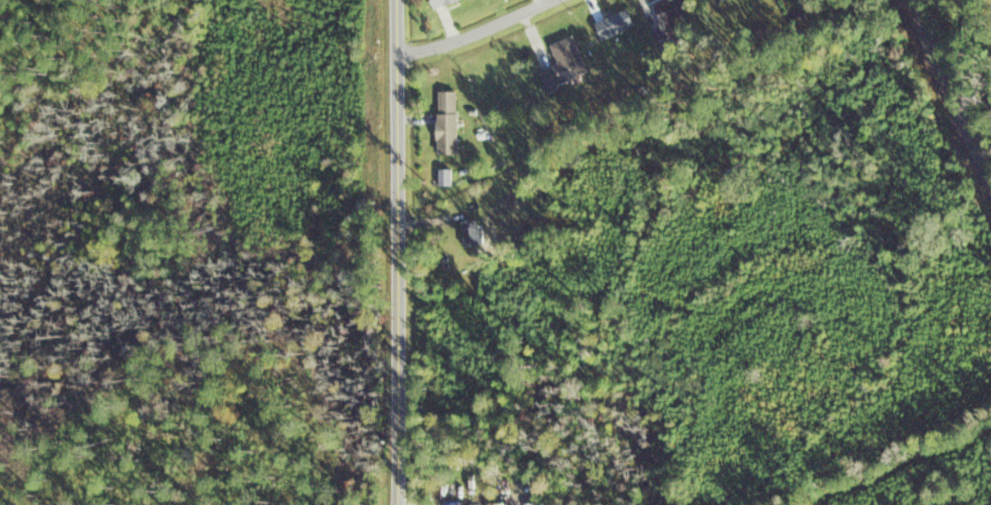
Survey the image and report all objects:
building: (440, 3)
building: (670, 11)
building: (615, 24)
road: (473, 30)
building: (565, 64)
railway: (950, 91)
building: (447, 122)
building: (471, 232)
road: (399, 252)

